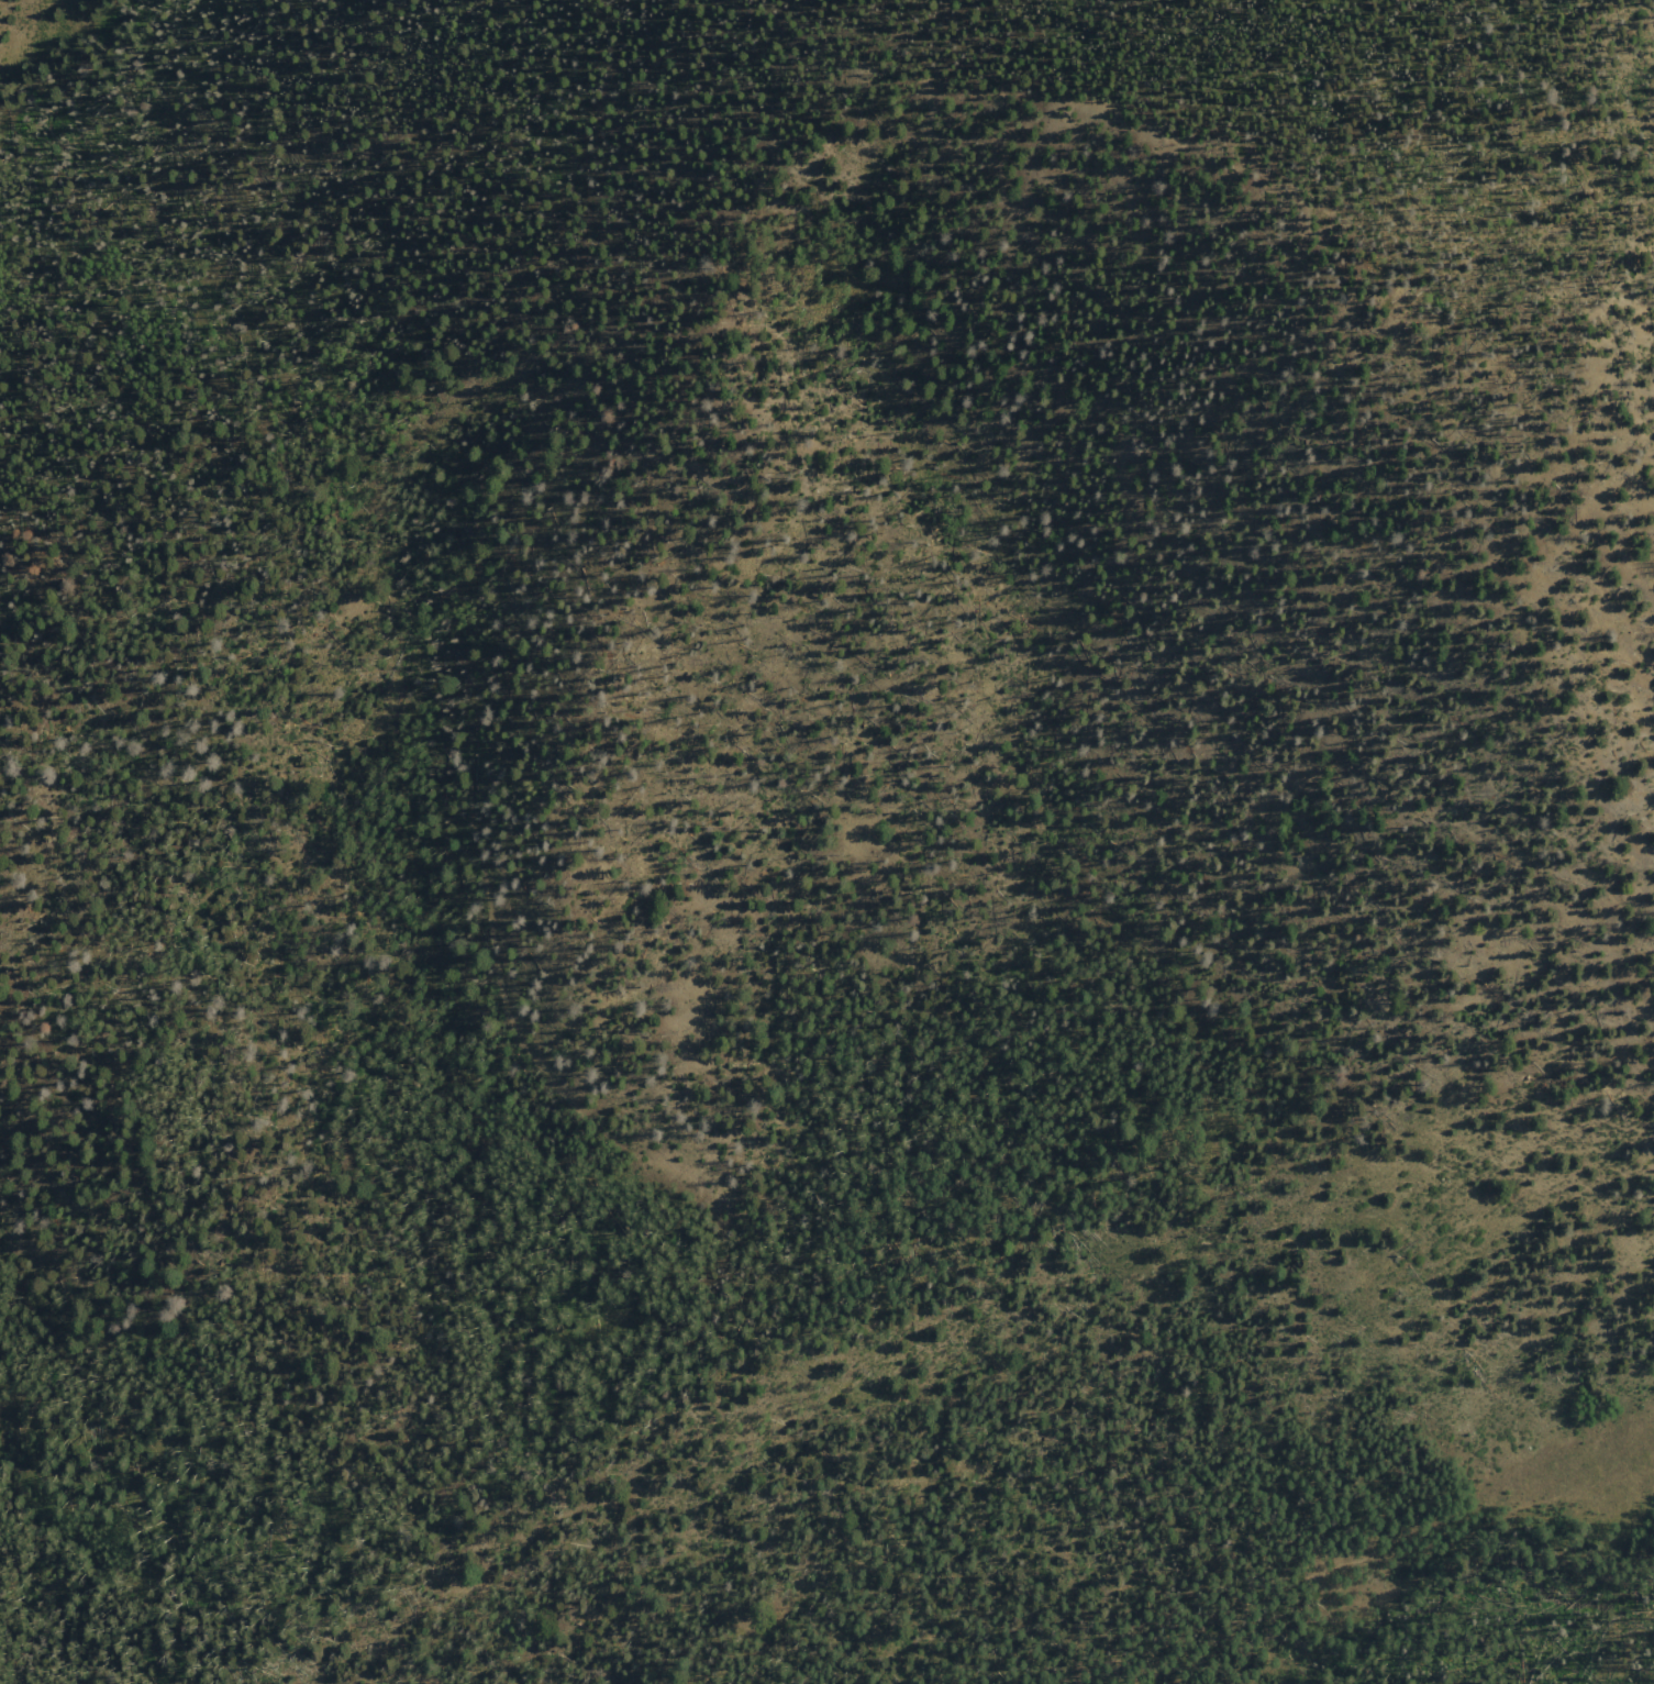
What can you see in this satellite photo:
road: (1500, 1585)

